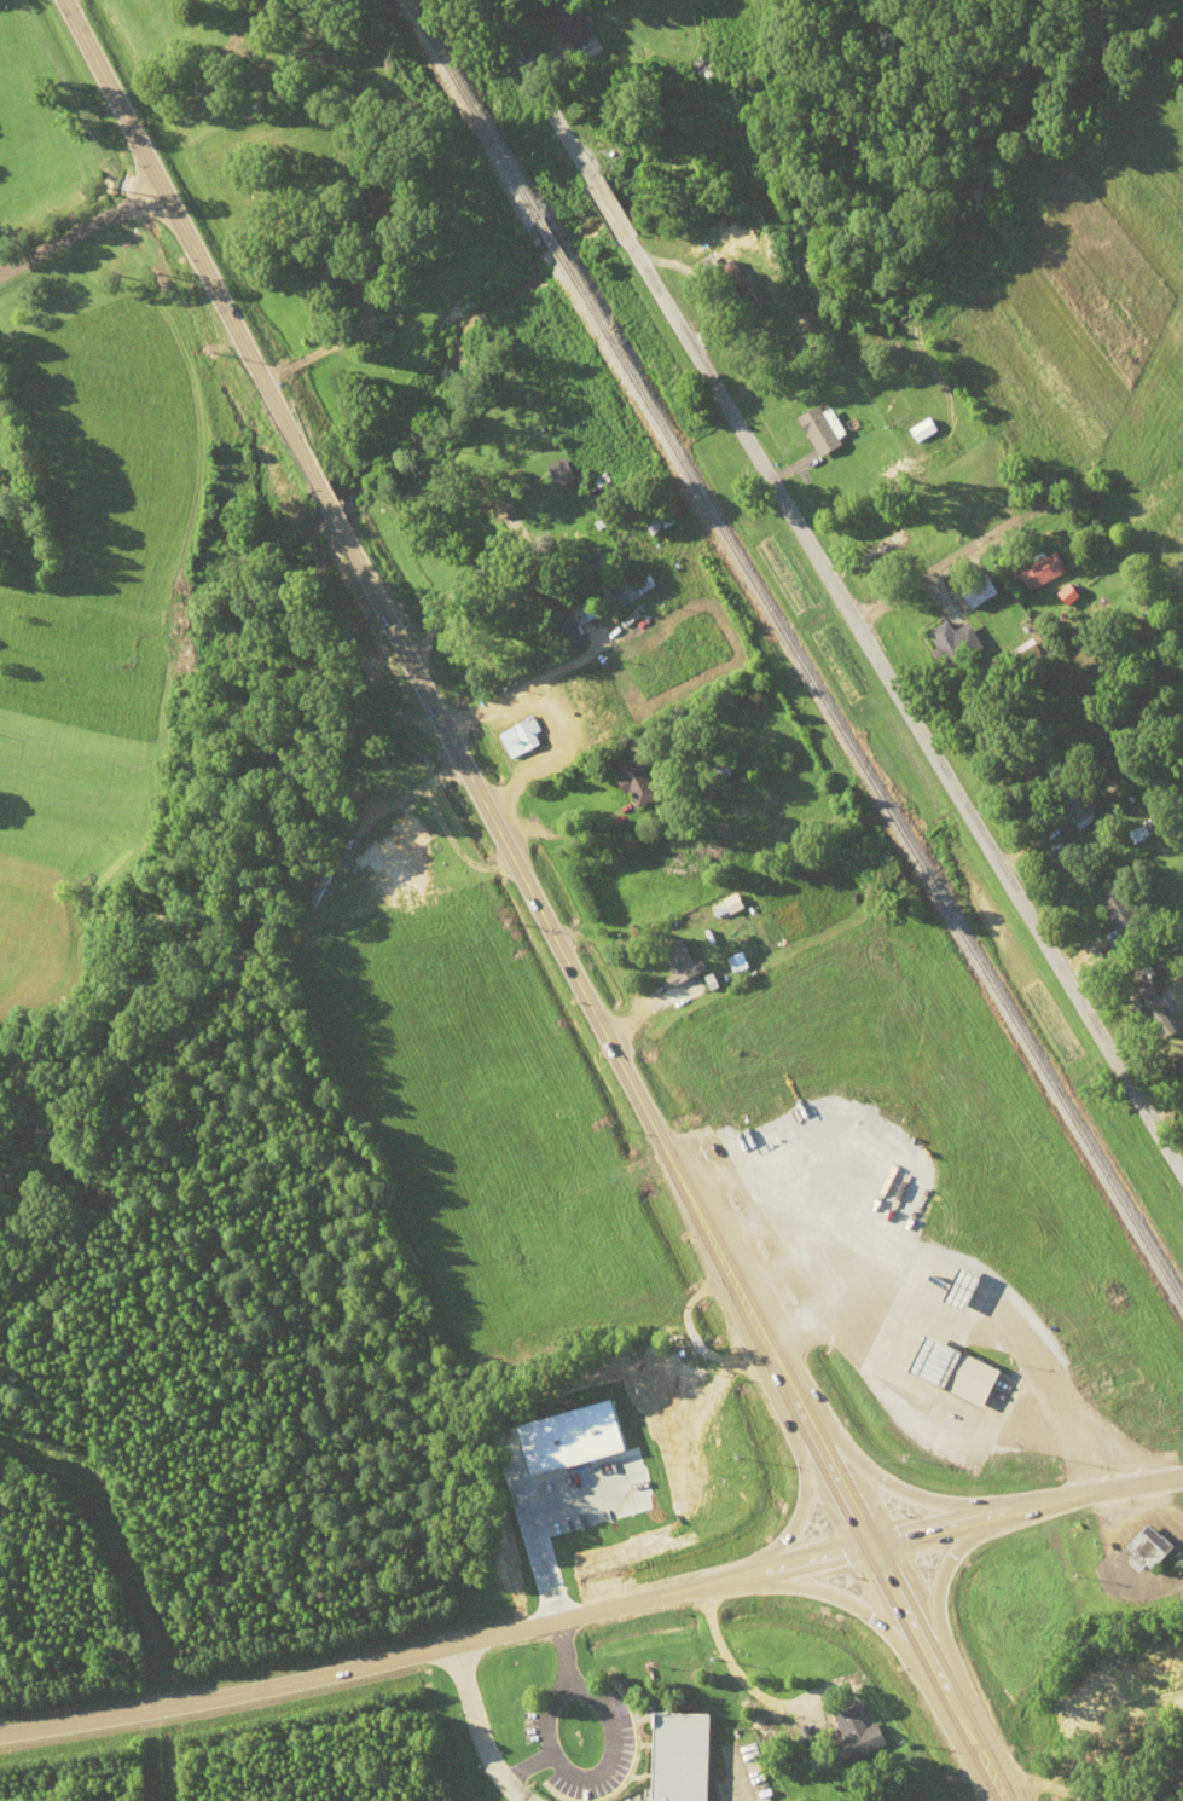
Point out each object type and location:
building: (570, 23)
road: (563, 103)
road: (80, 224)
road: (187, 244)
building: (703, 268)
building: (352, 285)
building: (817, 432)
building: (558, 473)
road: (330, 510)
building: (656, 523)
building: (865, 539)
building: (625, 585)
building: (978, 592)
building: (563, 616)
building: (949, 644)
railway: (791, 655)
building: (674, 691)
building: (590, 694)
road: (892, 694)
building: (520, 739)
building: (758, 764)
building: (633, 781)
road: (1075, 781)
building: (1072, 797)
building: (1118, 913)
building: (679, 966)
building: (1181, 1064)
road: (672, 1165)
building: (959, 1369)
road: (883, 1479)
road: (805, 1490)
building: (633, 1496)
road: (1026, 1505)
building: (1152, 1550)
road: (936, 1592)
road: (870, 1618)
road: (437, 1647)
building: (849, 1725)
building: (683, 1756)
road: (1092, 1762)

